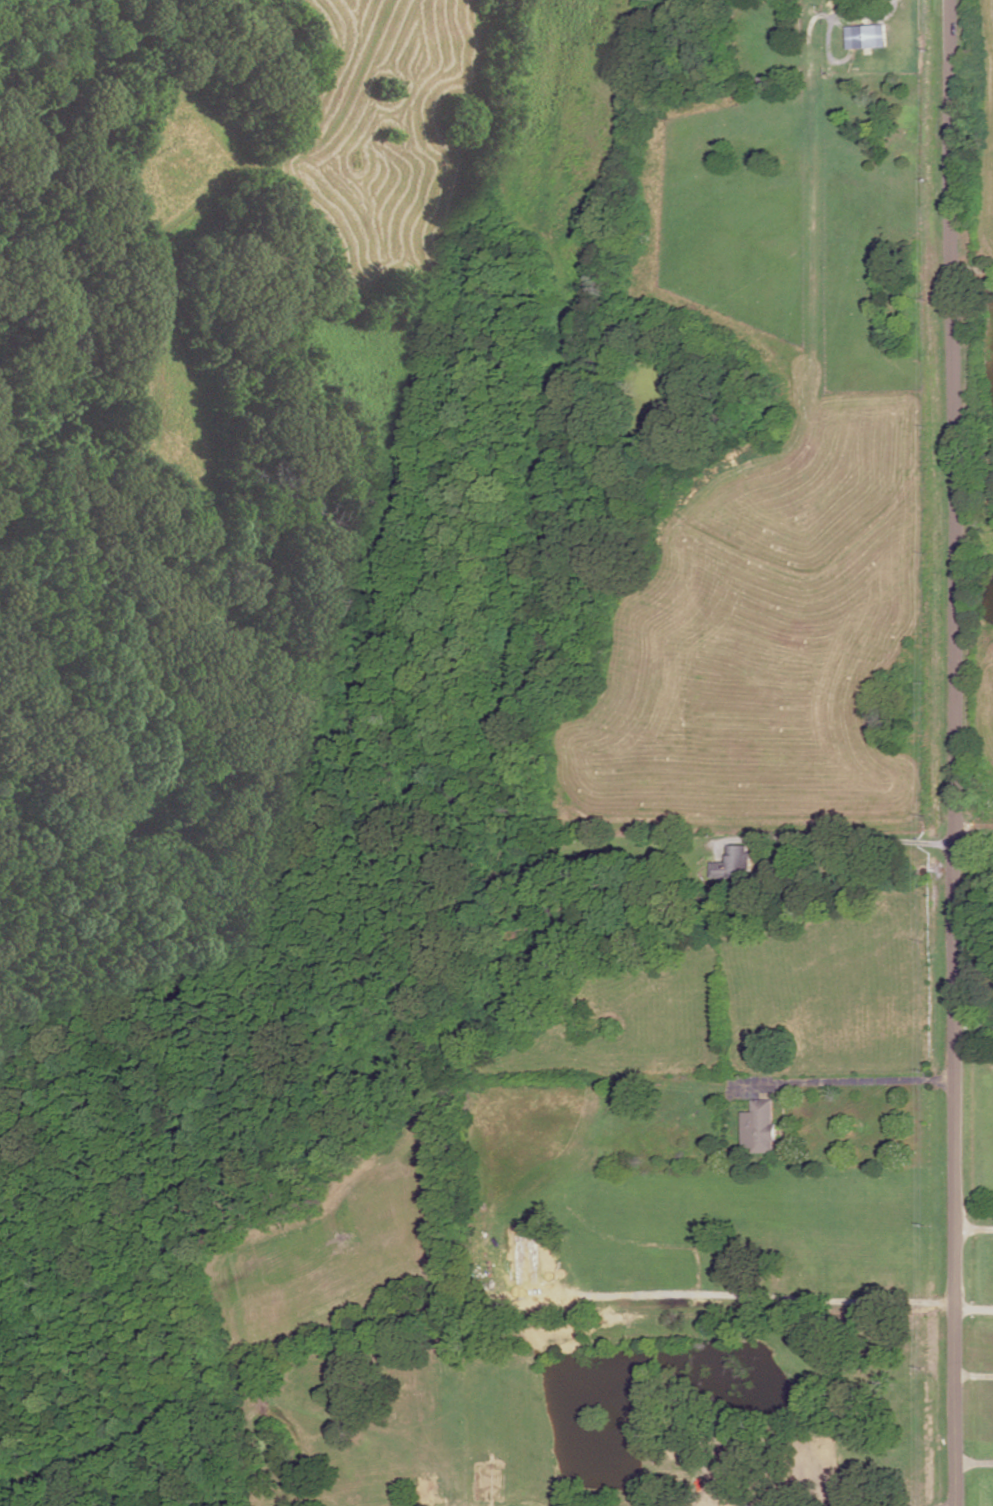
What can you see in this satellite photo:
building: (867, 35)
road: (952, 753)
road: (973, 823)
road: (841, 837)
building: (735, 863)
road: (973, 1024)
road: (846, 1075)
building: (760, 1126)
road: (974, 1225)
road: (761, 1296)
road: (972, 1306)
road: (973, 1373)
road: (974, 1461)
building: (427, 1489)
road: (953, 1505)

